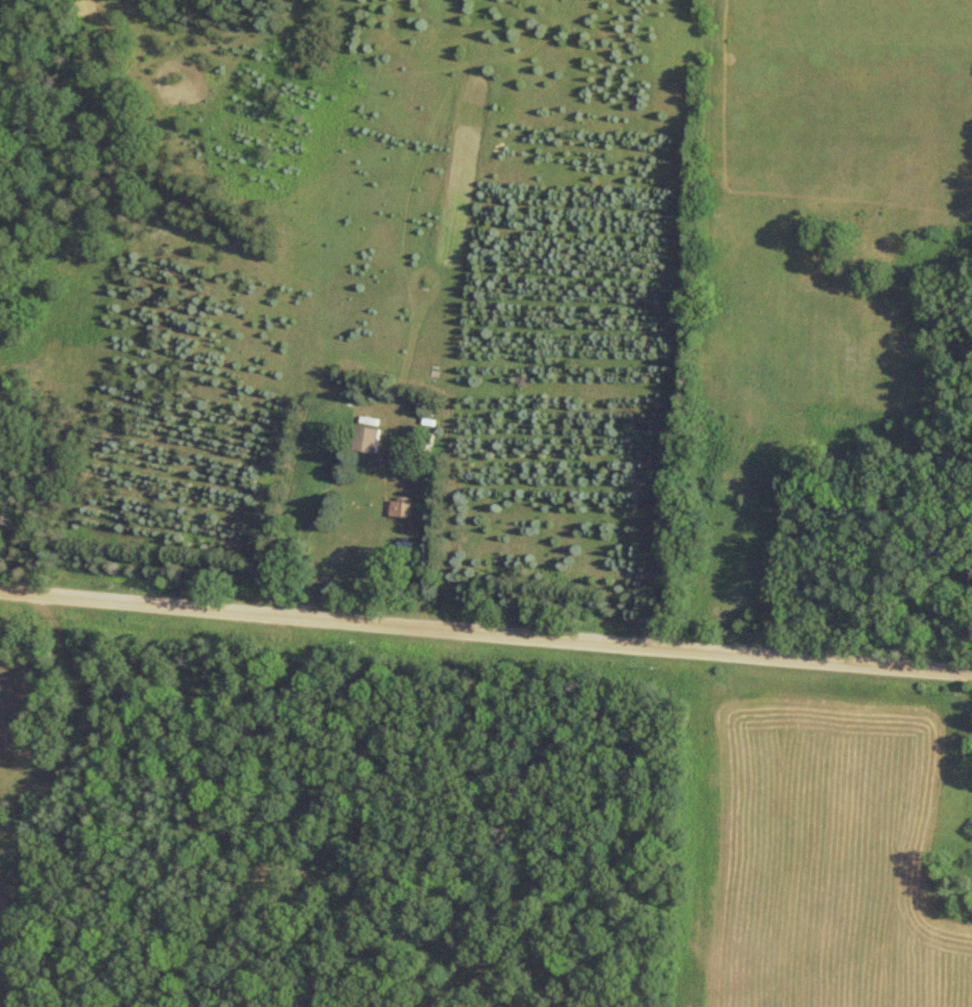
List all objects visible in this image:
building: (364, 438)
building: (399, 506)
road: (486, 631)

